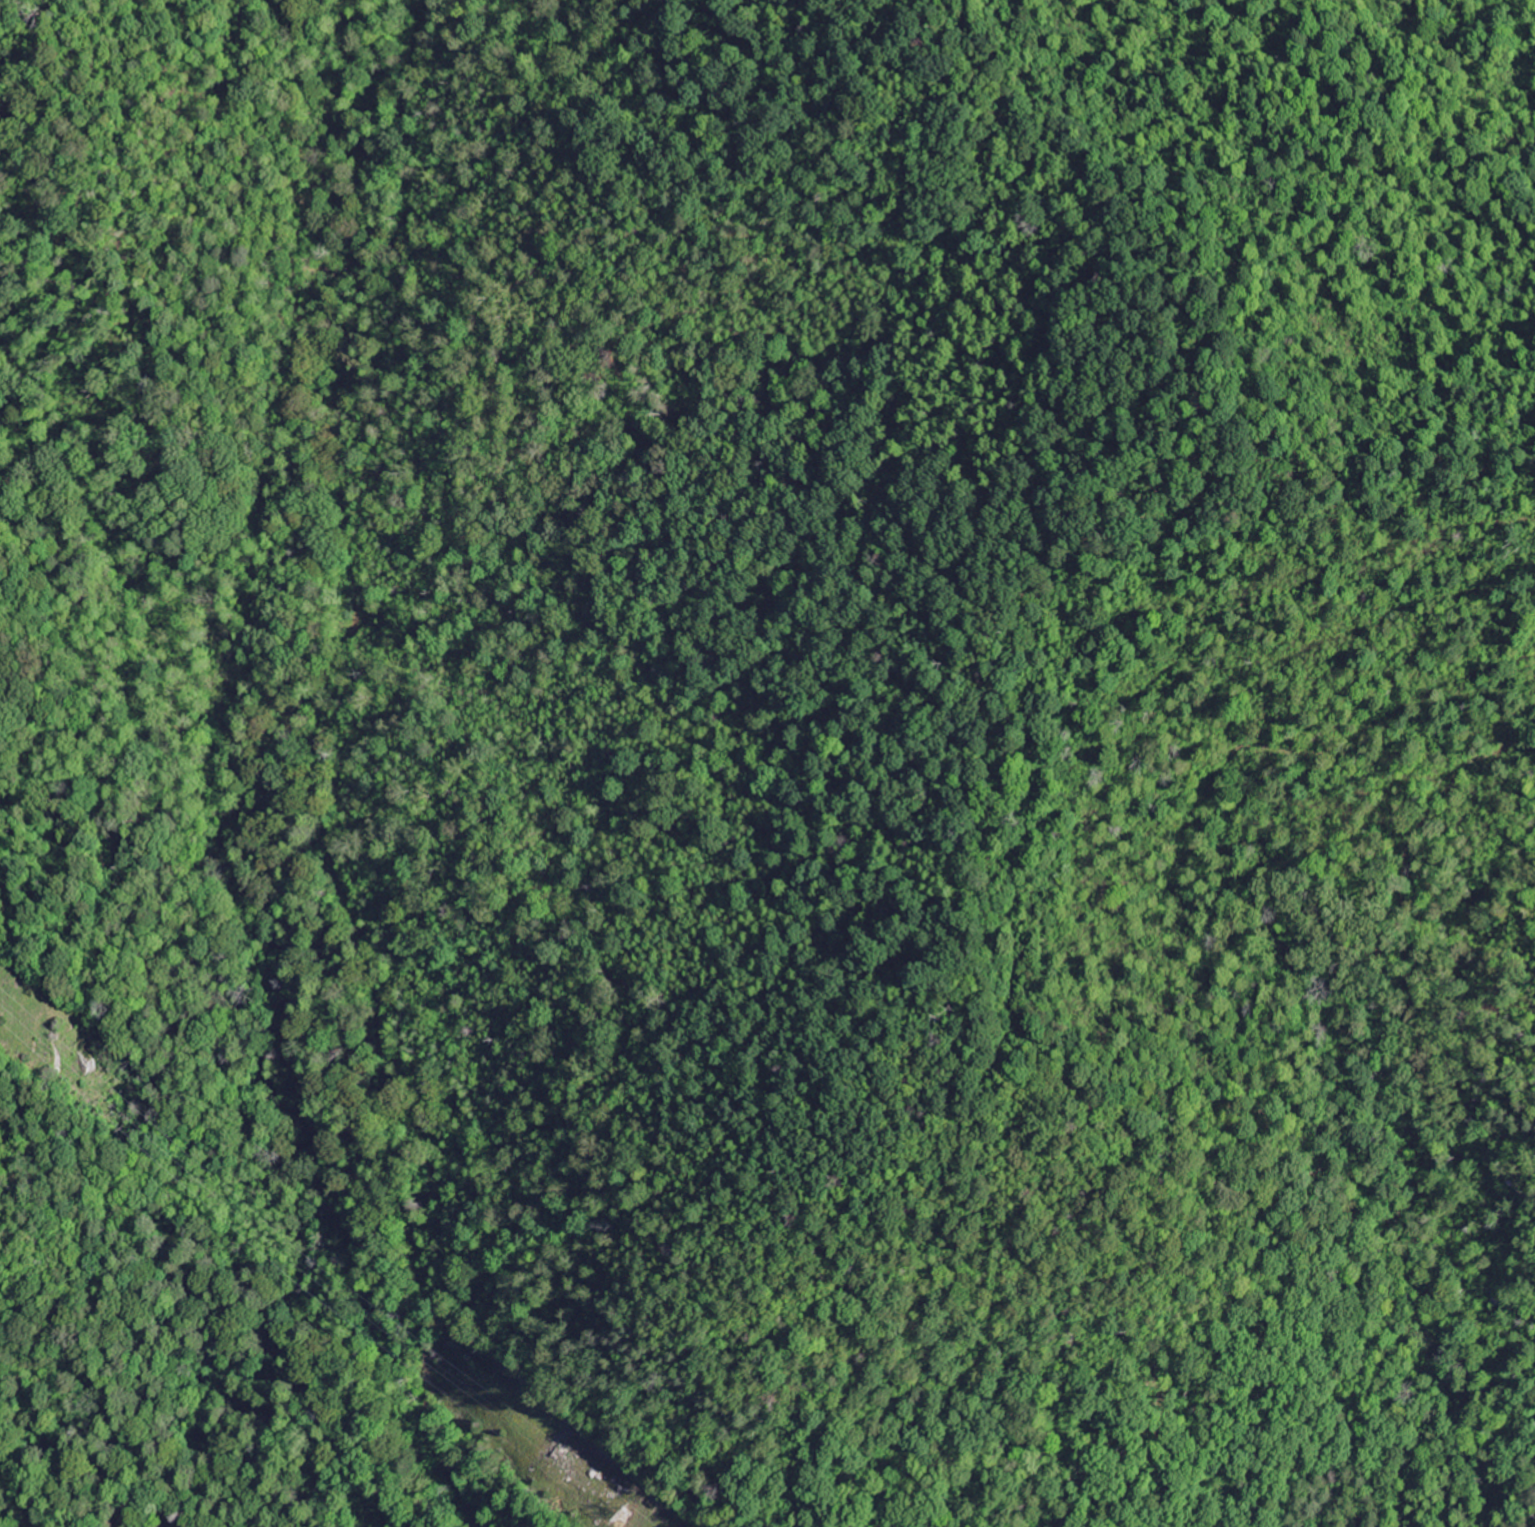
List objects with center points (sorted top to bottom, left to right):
power tower: (610, 1515)

